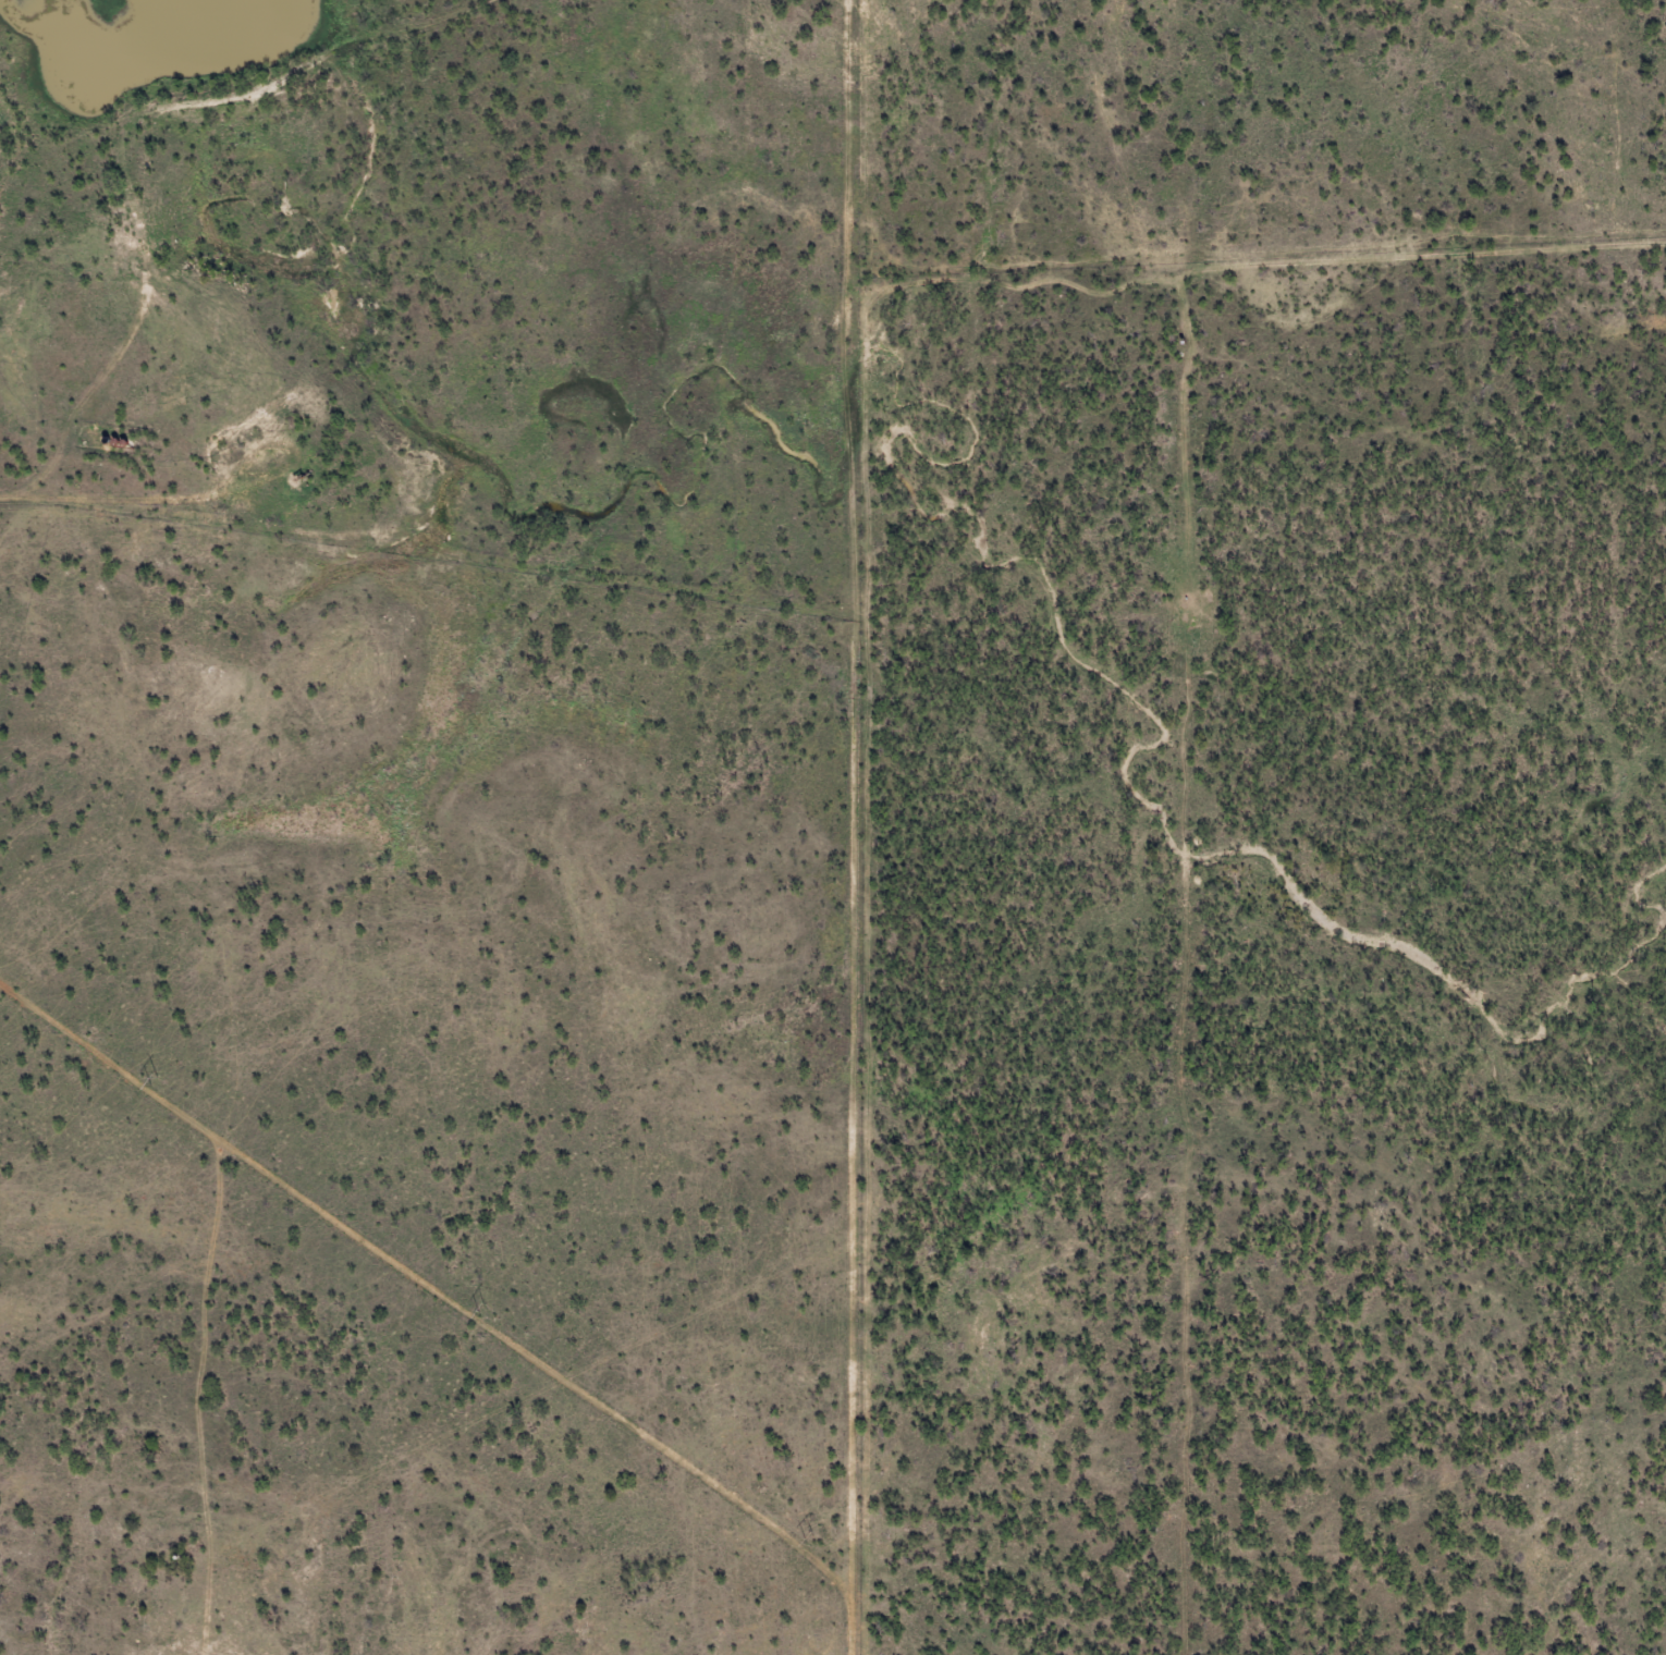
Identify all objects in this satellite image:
road: (785, 826)
power tower: (154, 1079)
power tower: (480, 1308)
power tower: (810, 1540)

